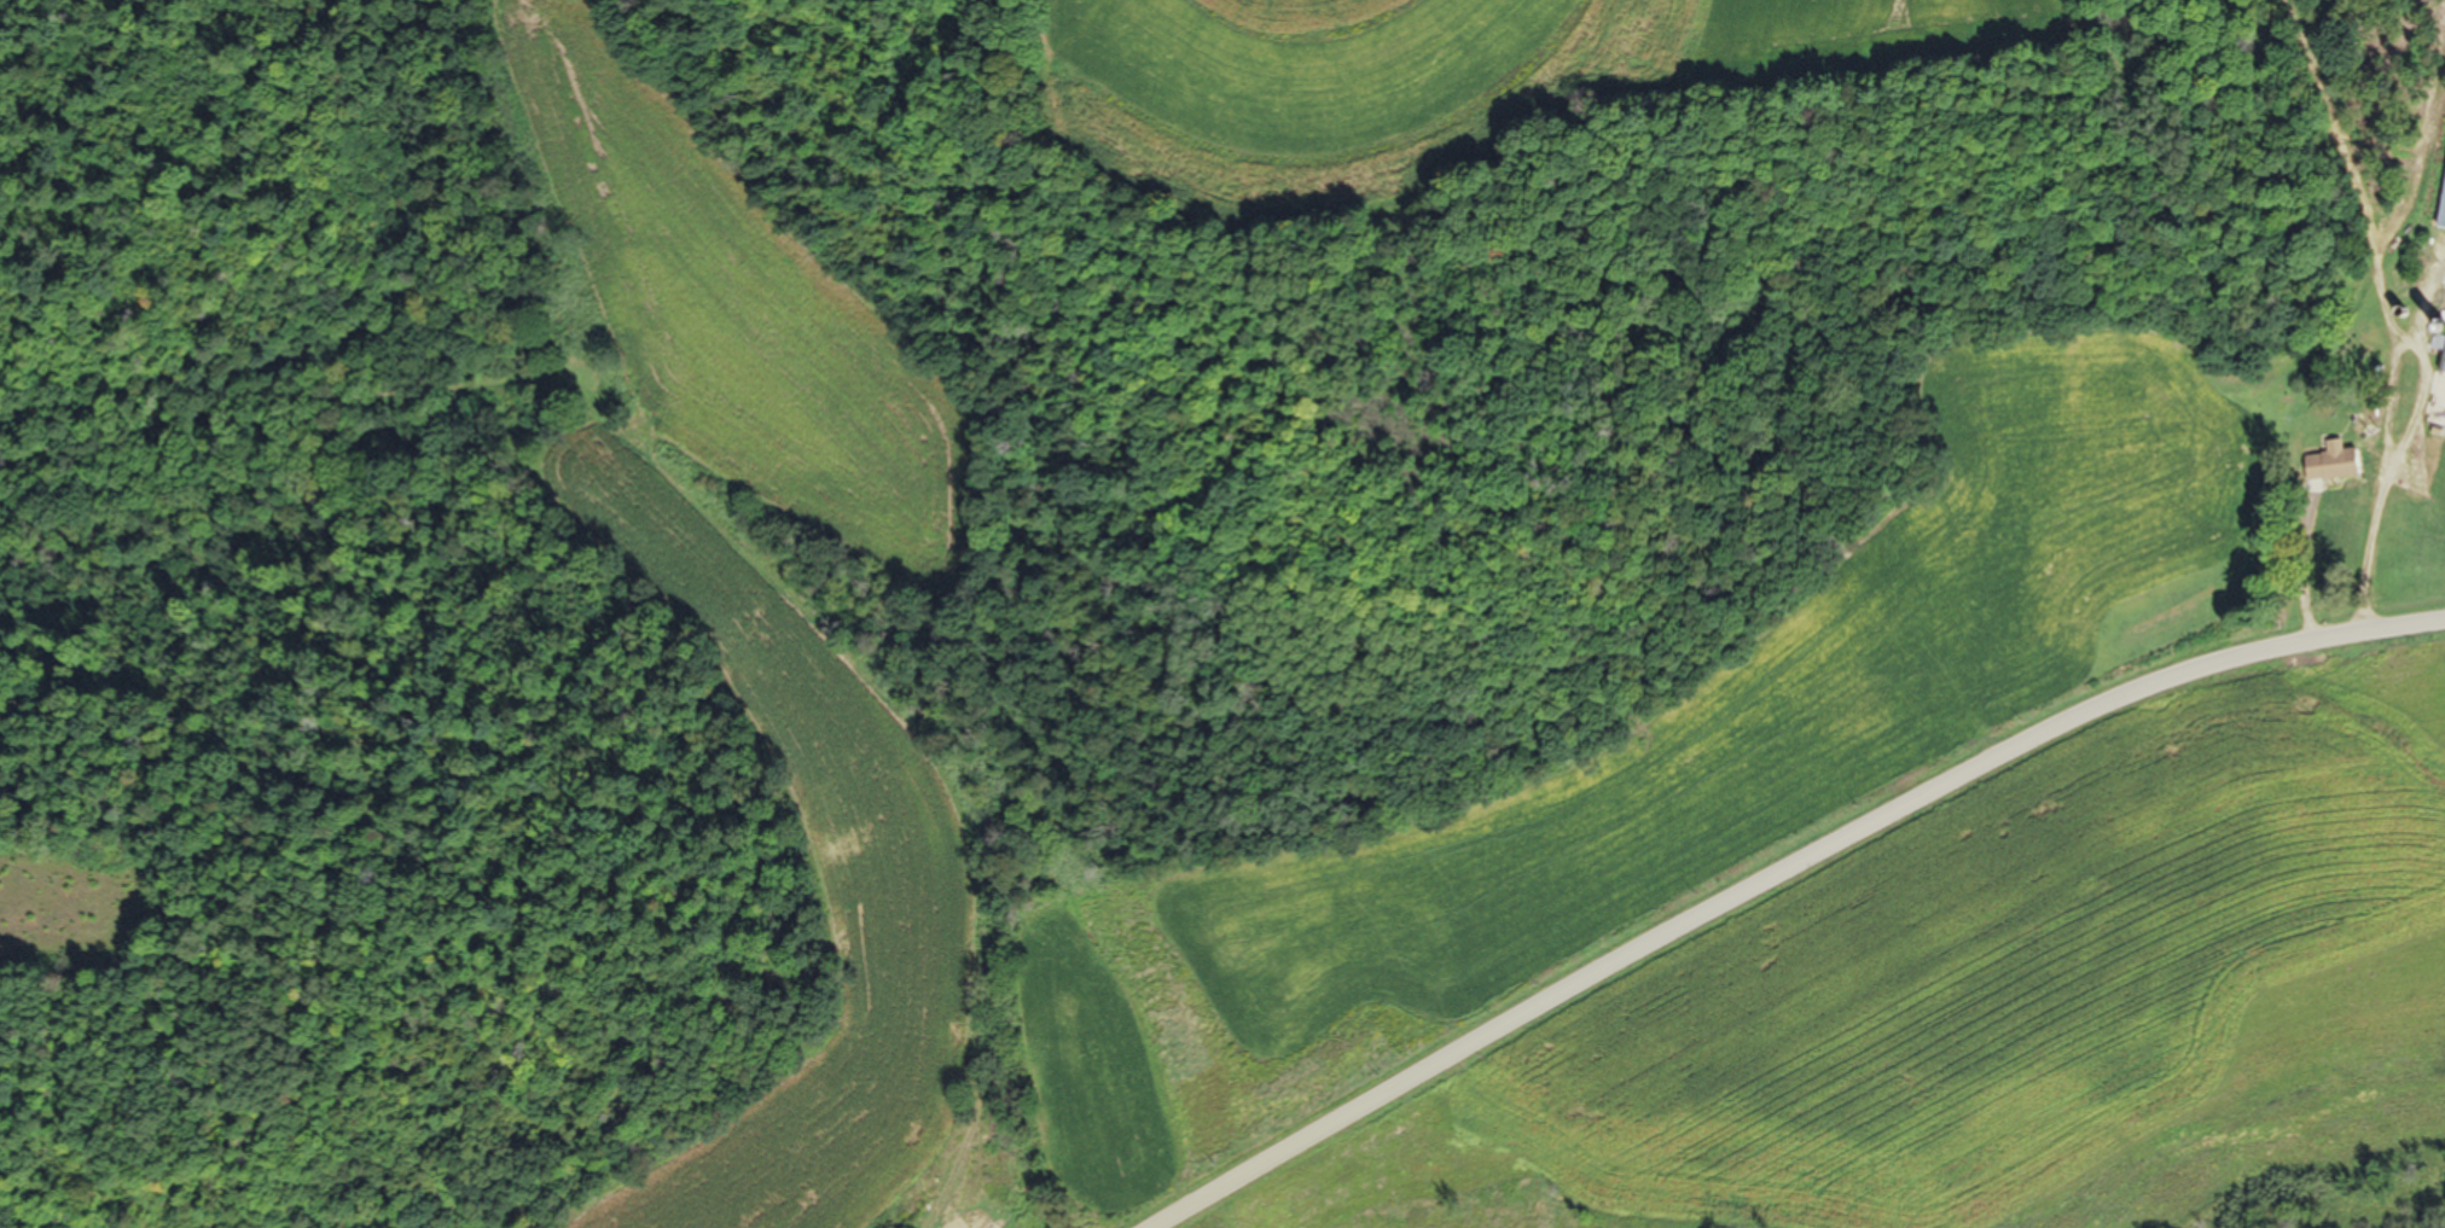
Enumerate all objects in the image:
building: (2444, 220)
building: (2441, 332)
building: (2444, 369)
building: (2334, 462)
road: (1783, 875)
quarry: (63, 1020)

